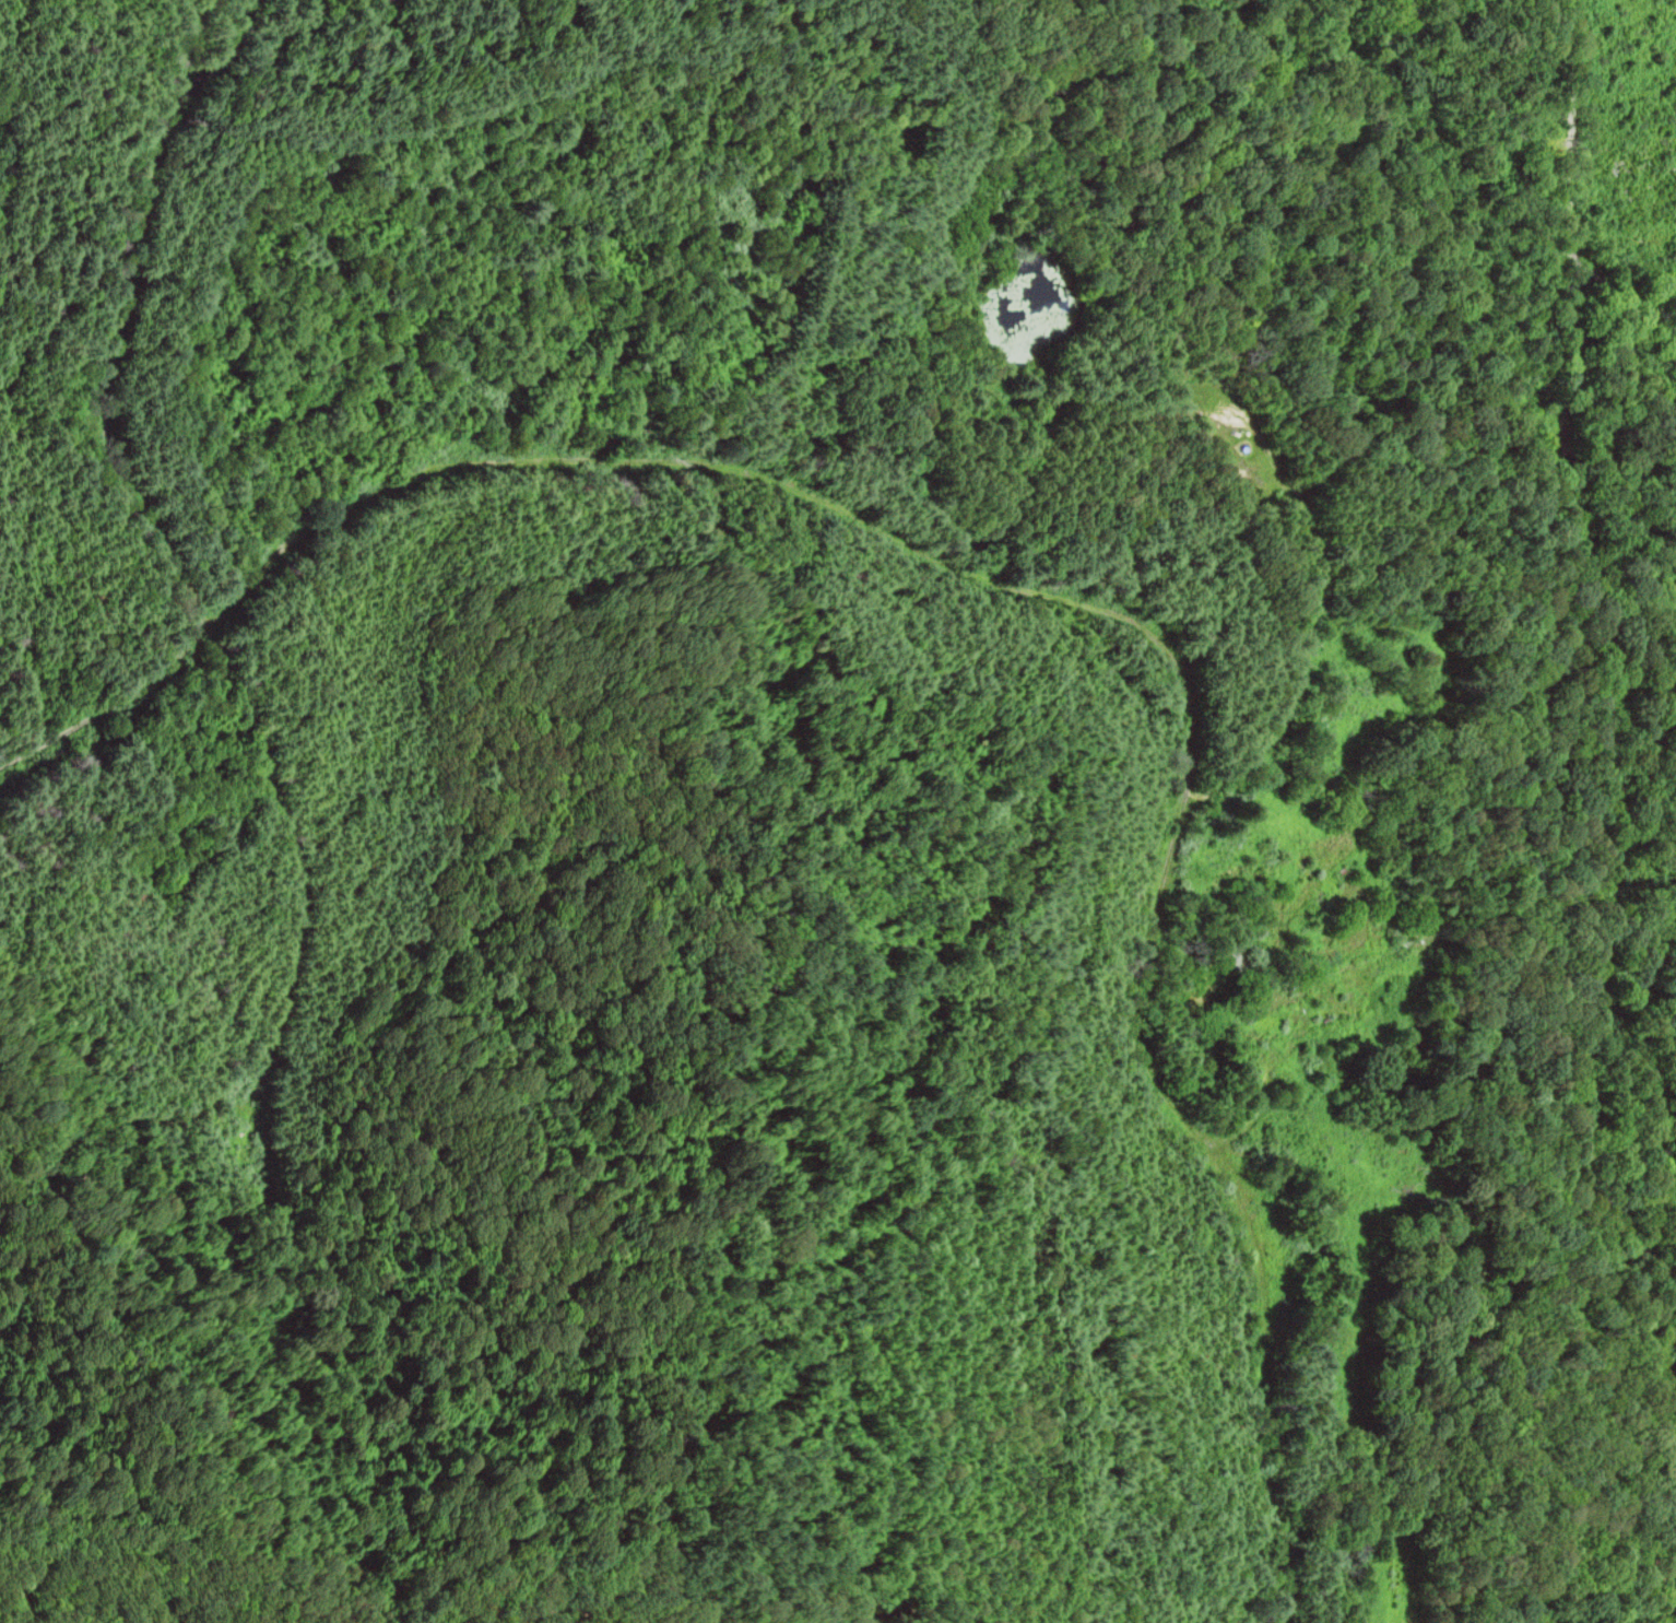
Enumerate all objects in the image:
road: (122, 314)
road: (1627, 345)
road: (650, 462)
road: (1569, 573)
road: (1322, 979)
road: (1482, 1377)

